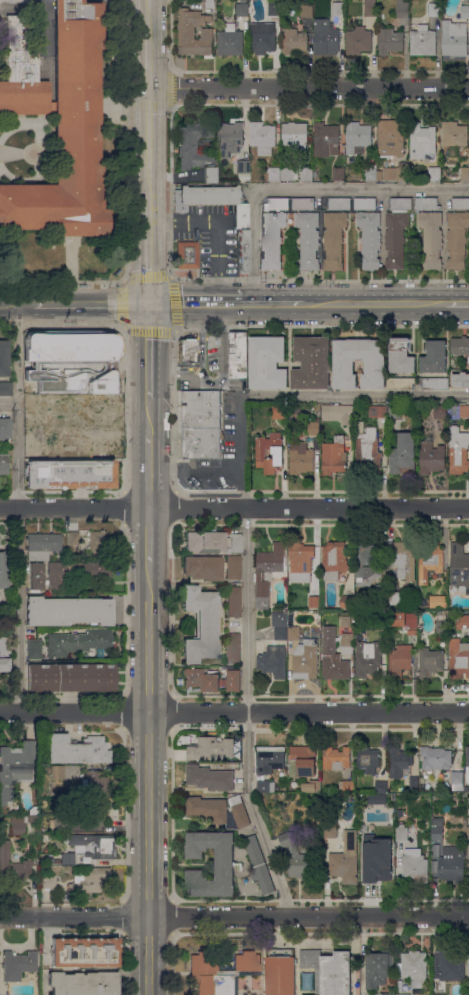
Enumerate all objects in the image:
building: (10, 1)
building: (27, 2)
building: (210, 4)
building: (274, 8)
building: (338, 8)
building: (370, 8)
building: (402, 8)
building: (242, 9)
building: (435, 9)
building: (306, 11)
building: (465, 12)
road: (150, 15)
building: (194, 32)
building: (326, 38)
building: (455, 38)
building: (262, 39)
building: (390, 40)
building: (231, 41)
building: (293, 41)
building: (358, 41)
building: (423, 41)
road: (150, 58)
road: (309, 87)
building: (58, 123)
building: (454, 133)
building: (295, 135)
building: (263, 137)
building: (358, 137)
building: (391, 137)
building: (229, 139)
building: (326, 139)
building: (421, 140)
building: (193, 144)
road: (15, 148)
road: (149, 148)
road: (15, 154)
building: (242, 166)
building: (435, 171)
building: (371, 172)
building: (394, 172)
building: (274, 173)
building: (289, 173)
building: (307, 173)
building: (338, 173)
building: (465, 173)
building: (210, 174)
building: (240, 179)
road: (307, 189)
road: (126, 202)
building: (340, 203)
building: (365, 203)
building: (427, 203)
building: (461, 203)
building: (275, 204)
building: (303, 204)
building: (241, 221)
road: (218, 228)
building: (397, 231)
building: (370, 238)
building: (432, 238)
building: (272, 239)
building: (309, 239)
building: (334, 239)
building: (457, 239)
building: (187, 254)
road: (148, 256)
road: (70, 258)
road: (319, 279)
road: (374, 303)
road: (457, 303)
road: (17, 304)
road: (91, 304)
traffic signals: (148, 304)
road: (195, 304)
road: (273, 304)
road: (174, 327)
building: (460, 346)
building: (189, 350)
road: (148, 351)
building: (238, 354)
building: (401, 355)
building: (78, 356)
building: (434, 357)
building: (4, 358)
building: (267, 362)
building: (312, 363)
building: (344, 367)
building: (117, 369)
building: (460, 380)
building: (400, 383)
building: (435, 383)
building: (6, 388)
road: (354, 395)
road: (8, 402)
road: (16, 406)
building: (99, 406)
building: (45, 407)
building: (297, 410)
building: (280, 411)
building: (378, 411)
building: (440, 411)
building: (464, 411)
building: (395, 412)
building: (338, 413)
road: (149, 416)
building: (201, 424)
building: (314, 427)
building: (4, 428)
building: (77, 441)
building: (368, 447)
road: (240, 451)
building: (458, 451)
building: (270, 452)
building: (403, 454)
building: (334, 455)
building: (301, 456)
building: (431, 457)
building: (4, 463)
road: (194, 469)
road: (148, 470)
building: (70, 473)
road: (234, 508)
road: (148, 535)
building: (73, 538)
building: (98, 540)
building: (213, 542)
building: (42, 545)
building: (431, 557)
building: (368, 558)
building: (334, 559)
building: (405, 559)
building: (301, 561)
building: (212, 567)
building: (459, 568)
building: (4, 569)
building: (75, 571)
building: (270, 572)
building: (36, 576)
building: (381, 590)
building: (397, 598)
building: (234, 601)
building: (315, 601)
building: (438, 601)
building: (347, 602)
road: (17, 610)
building: (67, 611)
building: (347, 621)
building: (378, 621)
building: (407, 621)
building: (462, 621)
building: (200, 624)
building: (280, 624)
building: (441, 626)
building: (293, 628)
road: (148, 637)
building: (348, 639)
building: (79, 642)
building: (5, 645)
building: (234, 647)
building: (34, 648)
building: (334, 657)
building: (368, 658)
building: (306, 659)
building: (458, 659)
building: (400, 660)
building: (274, 661)
building: (430, 662)
building: (5, 664)
building: (71, 677)
building: (212, 680)
road: (234, 710)
road: (247, 714)
building: (211, 748)
building: (77, 749)
building: (468, 756)
building: (270, 758)
building: (337, 758)
building: (436, 758)
building: (369, 759)
building: (303, 761)
building: (400, 762)
building: (15, 767)
building: (57, 772)
building: (210, 777)
building: (457, 780)
building: (94, 783)
building: (414, 783)
building: (346, 785)
building: (266, 786)
building: (312, 786)
building: (382, 787)
building: (375, 798)
building: (208, 808)
building: (445, 808)
building: (96, 811)
building: (239, 811)
building: (398, 812)
building: (33, 817)
building: (455, 819)
building: (57, 823)
building: (17, 825)
building: (437, 828)
building: (330, 829)
building: (366, 829)
building: (401, 832)
building: (468, 833)
building: (412, 834)
building: (93, 845)
building: (436, 849)
road: (148, 852)
building: (296, 856)
building: (68, 858)
building: (346, 859)
building: (57, 861)
building: (223, 863)
building: (453, 864)
building: (12, 865)
building: (259, 865)
building: (415, 865)
building: (379, 866)
building: (434, 866)
building: (88, 878)
building: (48, 881)
road: (234, 915)
building: (84, 952)
building: (18, 964)
building: (468, 964)
building: (447, 965)
building: (415, 967)
building: (378, 969)
building: (329, 970)
building: (221, 972)
building: (280, 972)
building: (307, 981)
building: (83, 983)
building: (306, 994)
building: (388, 994)
building: (404, 994)
building: (438, 994)
building: (468, 994)

